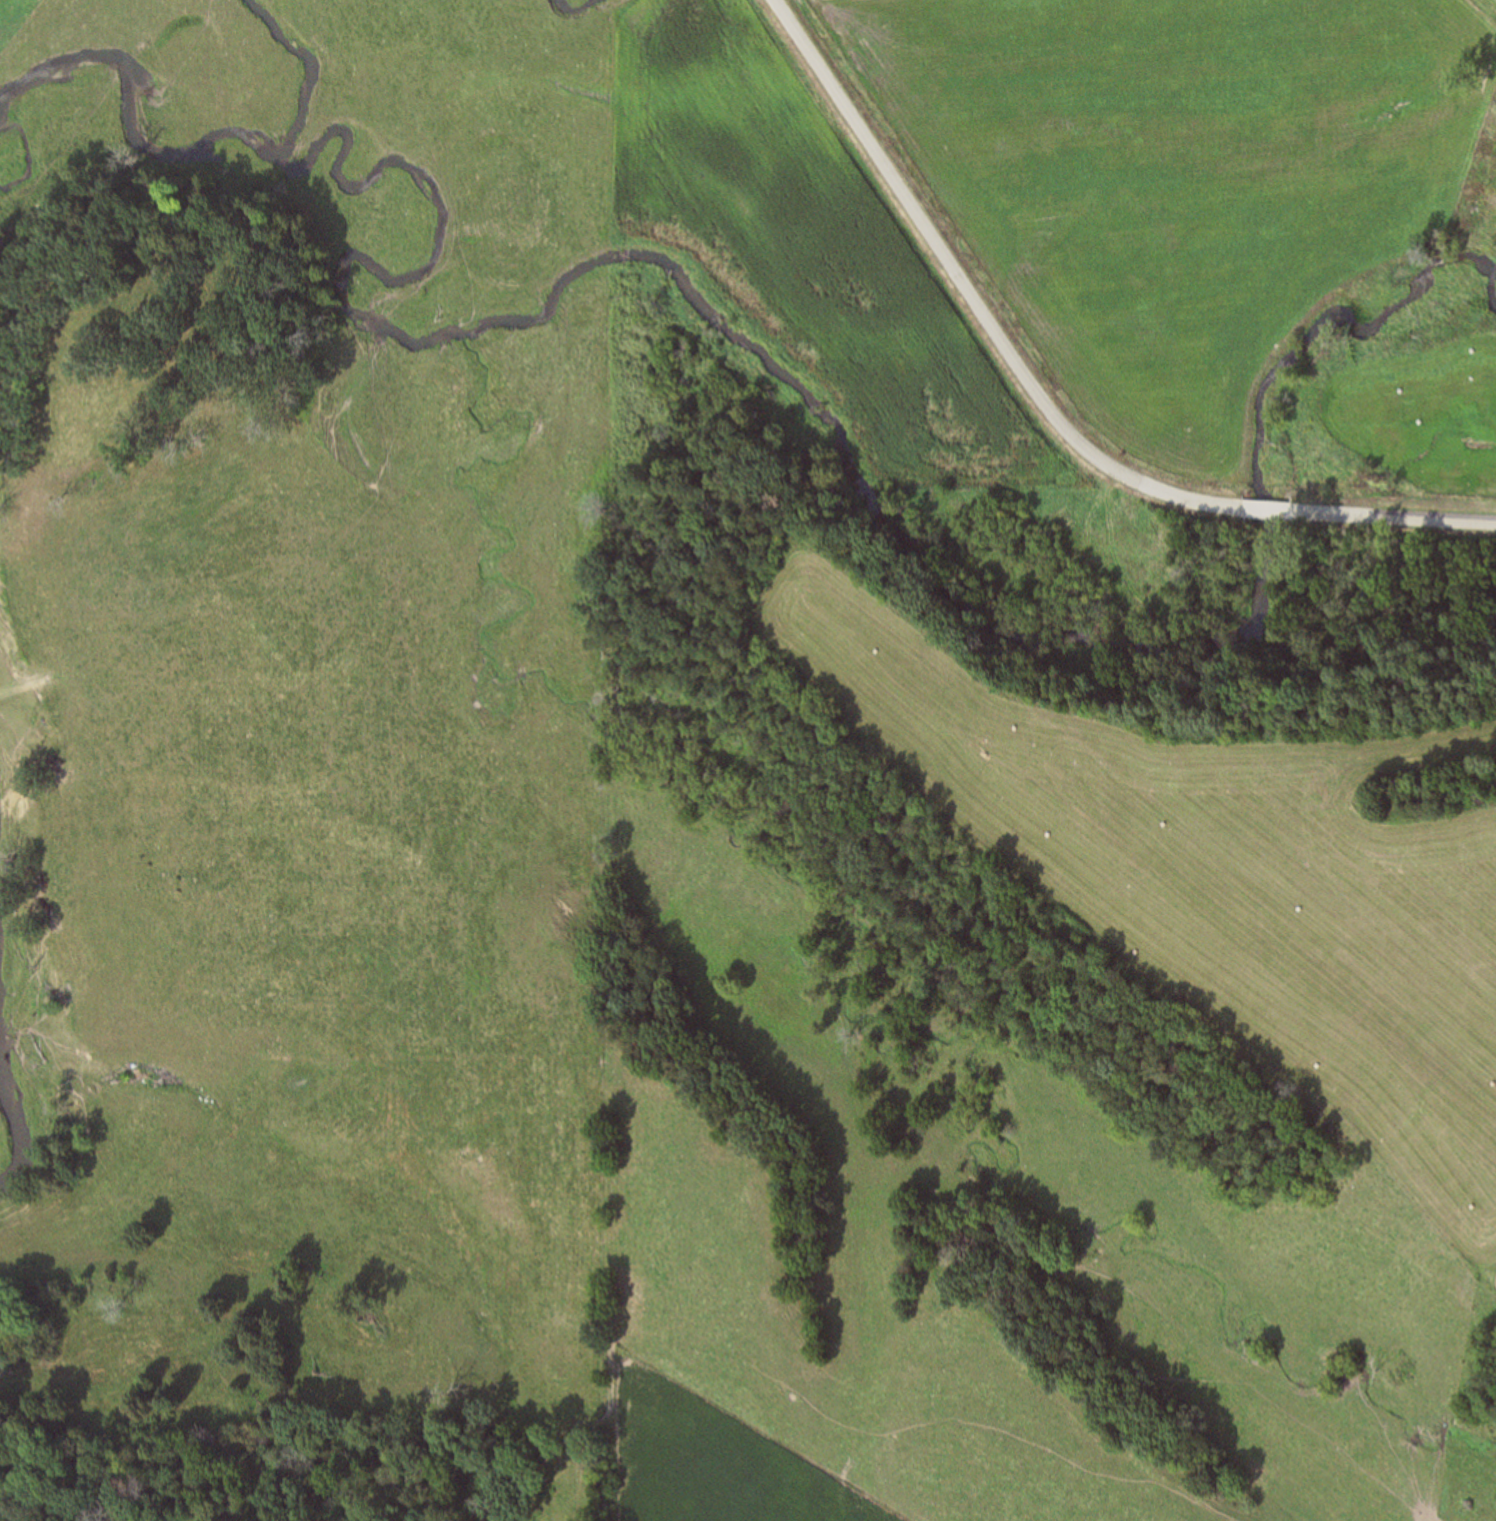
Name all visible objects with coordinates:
road: (976, 307)
road: (1276, 513)
road: (1394, 518)

